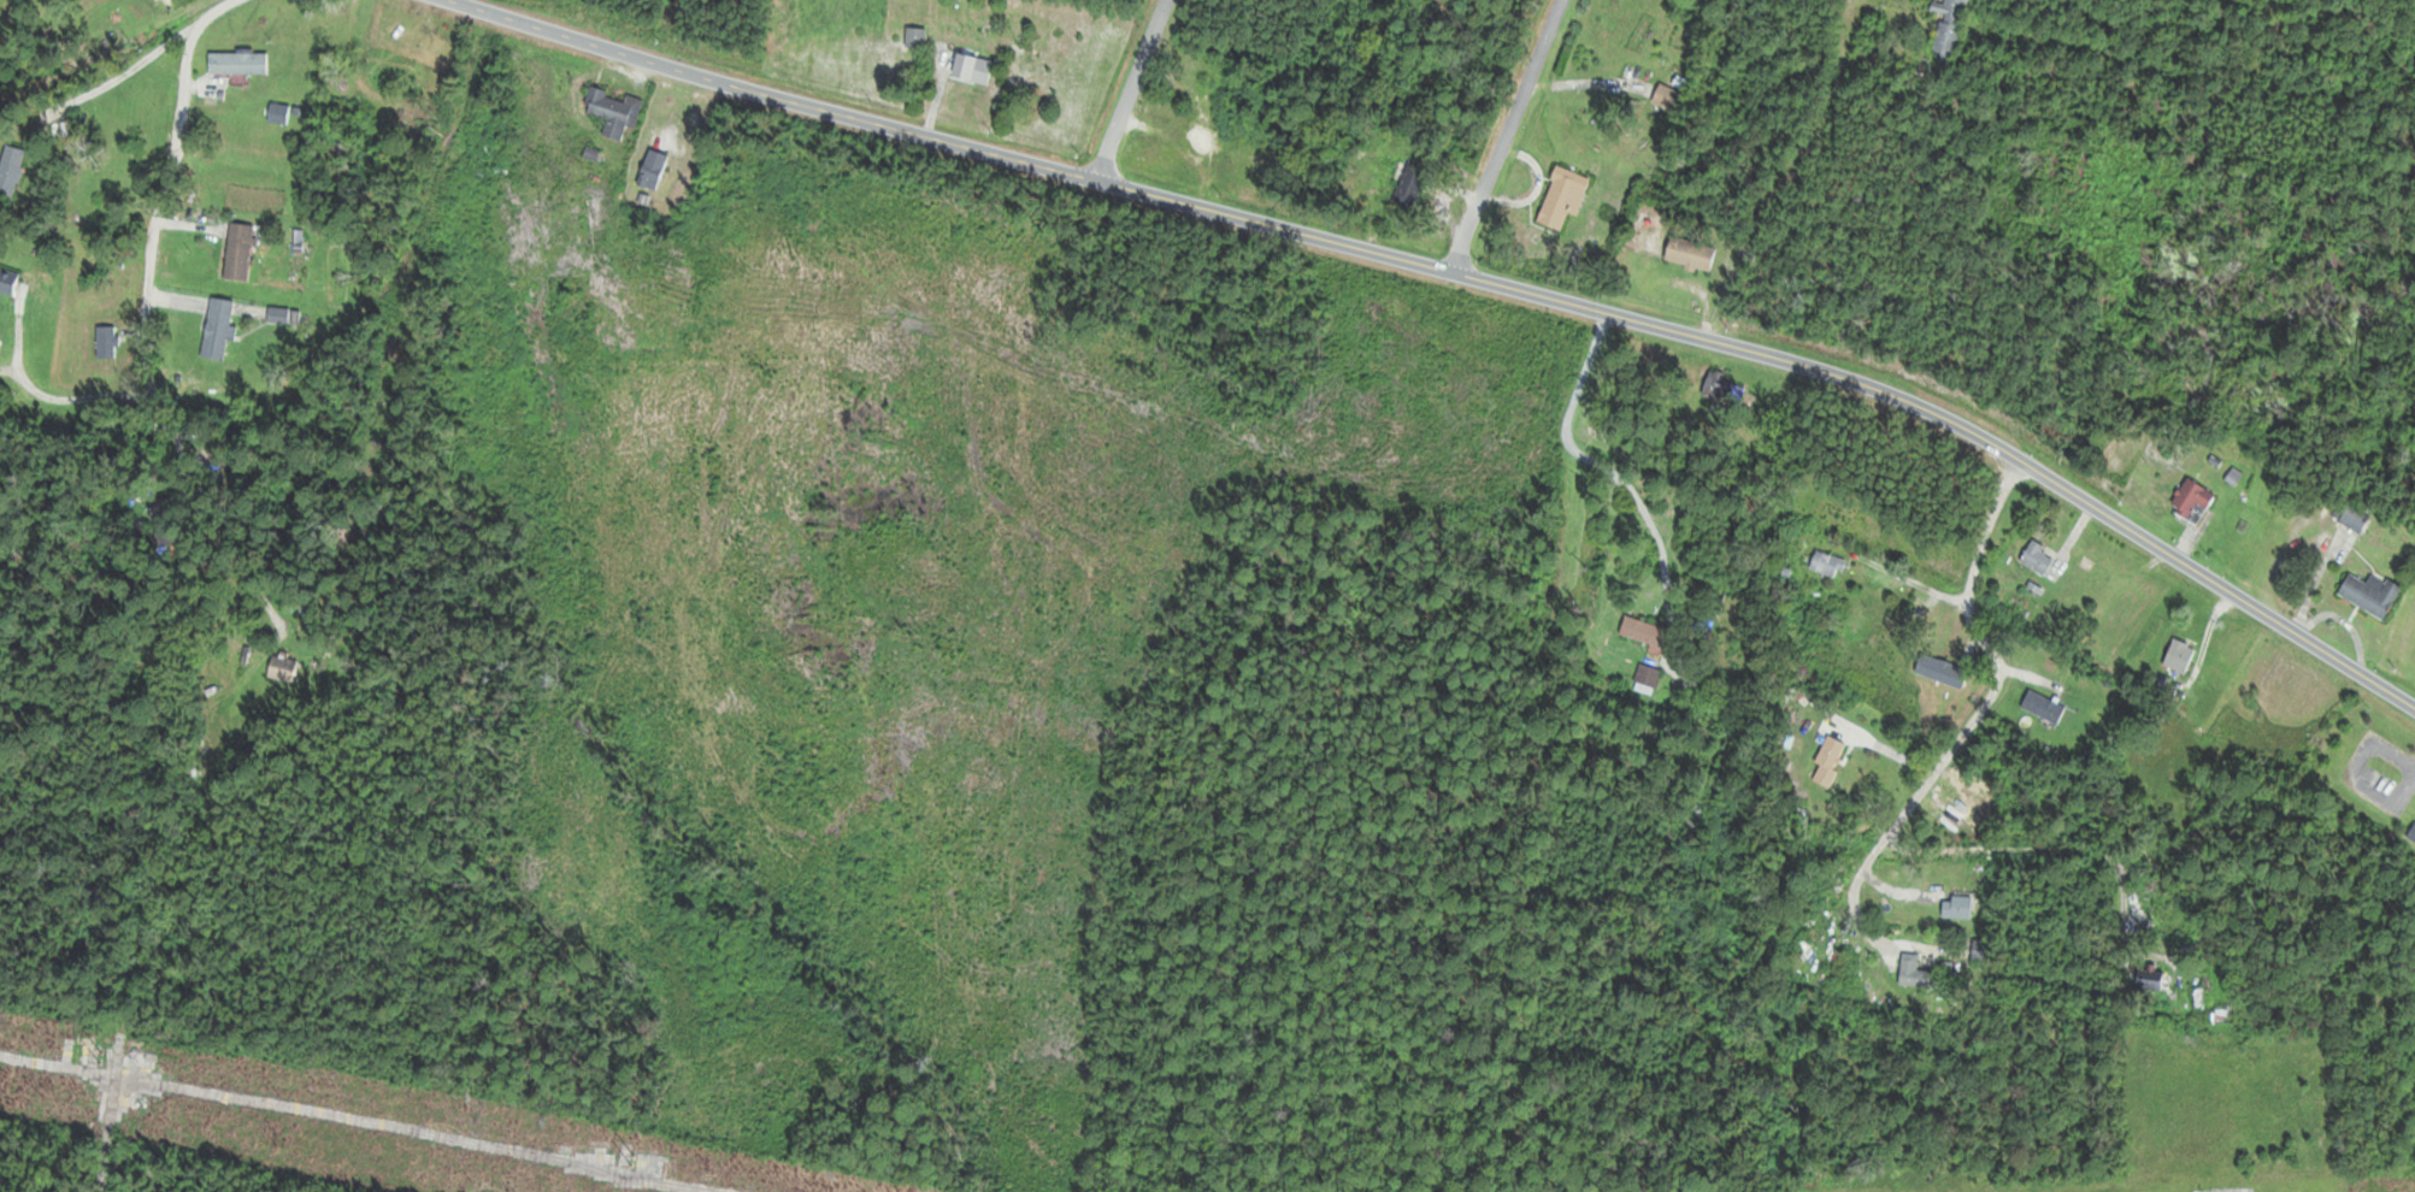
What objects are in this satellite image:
building: (1946, 26)
building: (915, 36)
building: (237, 61)
building: (971, 67)
road: (99, 87)
road: (1131, 90)
building: (1665, 96)
road: (1833, 98)
building: (609, 111)
road: (1509, 136)
building: (1206, 143)
building: (10, 167)
building: (652, 169)
building: (1409, 184)
road: (160, 185)
building: (1560, 197)
building: (237, 250)
building: (1689, 253)
building: (7, 278)
road: (1478, 279)
building: (277, 314)
building: (217, 327)
building: (105, 341)
building: (1721, 389)
road: (51, 396)
building: (2191, 501)
building: (2354, 518)
building: (2037, 557)
building: (1827, 563)
road: (1901, 577)
building: (2369, 592)
building: (1643, 631)
building: (2178, 656)
building: (281, 667)
building: (1940, 671)
building: (1645, 679)
road: (1996, 681)
building: (2042, 707)
building: (1956, 907)
road: (1863, 928)
building: (1980, 950)
building: (1912, 972)
building: (2149, 982)
power tower: (76, 1056)
power tower: (278, 1137)
power tower: (618, 1157)

